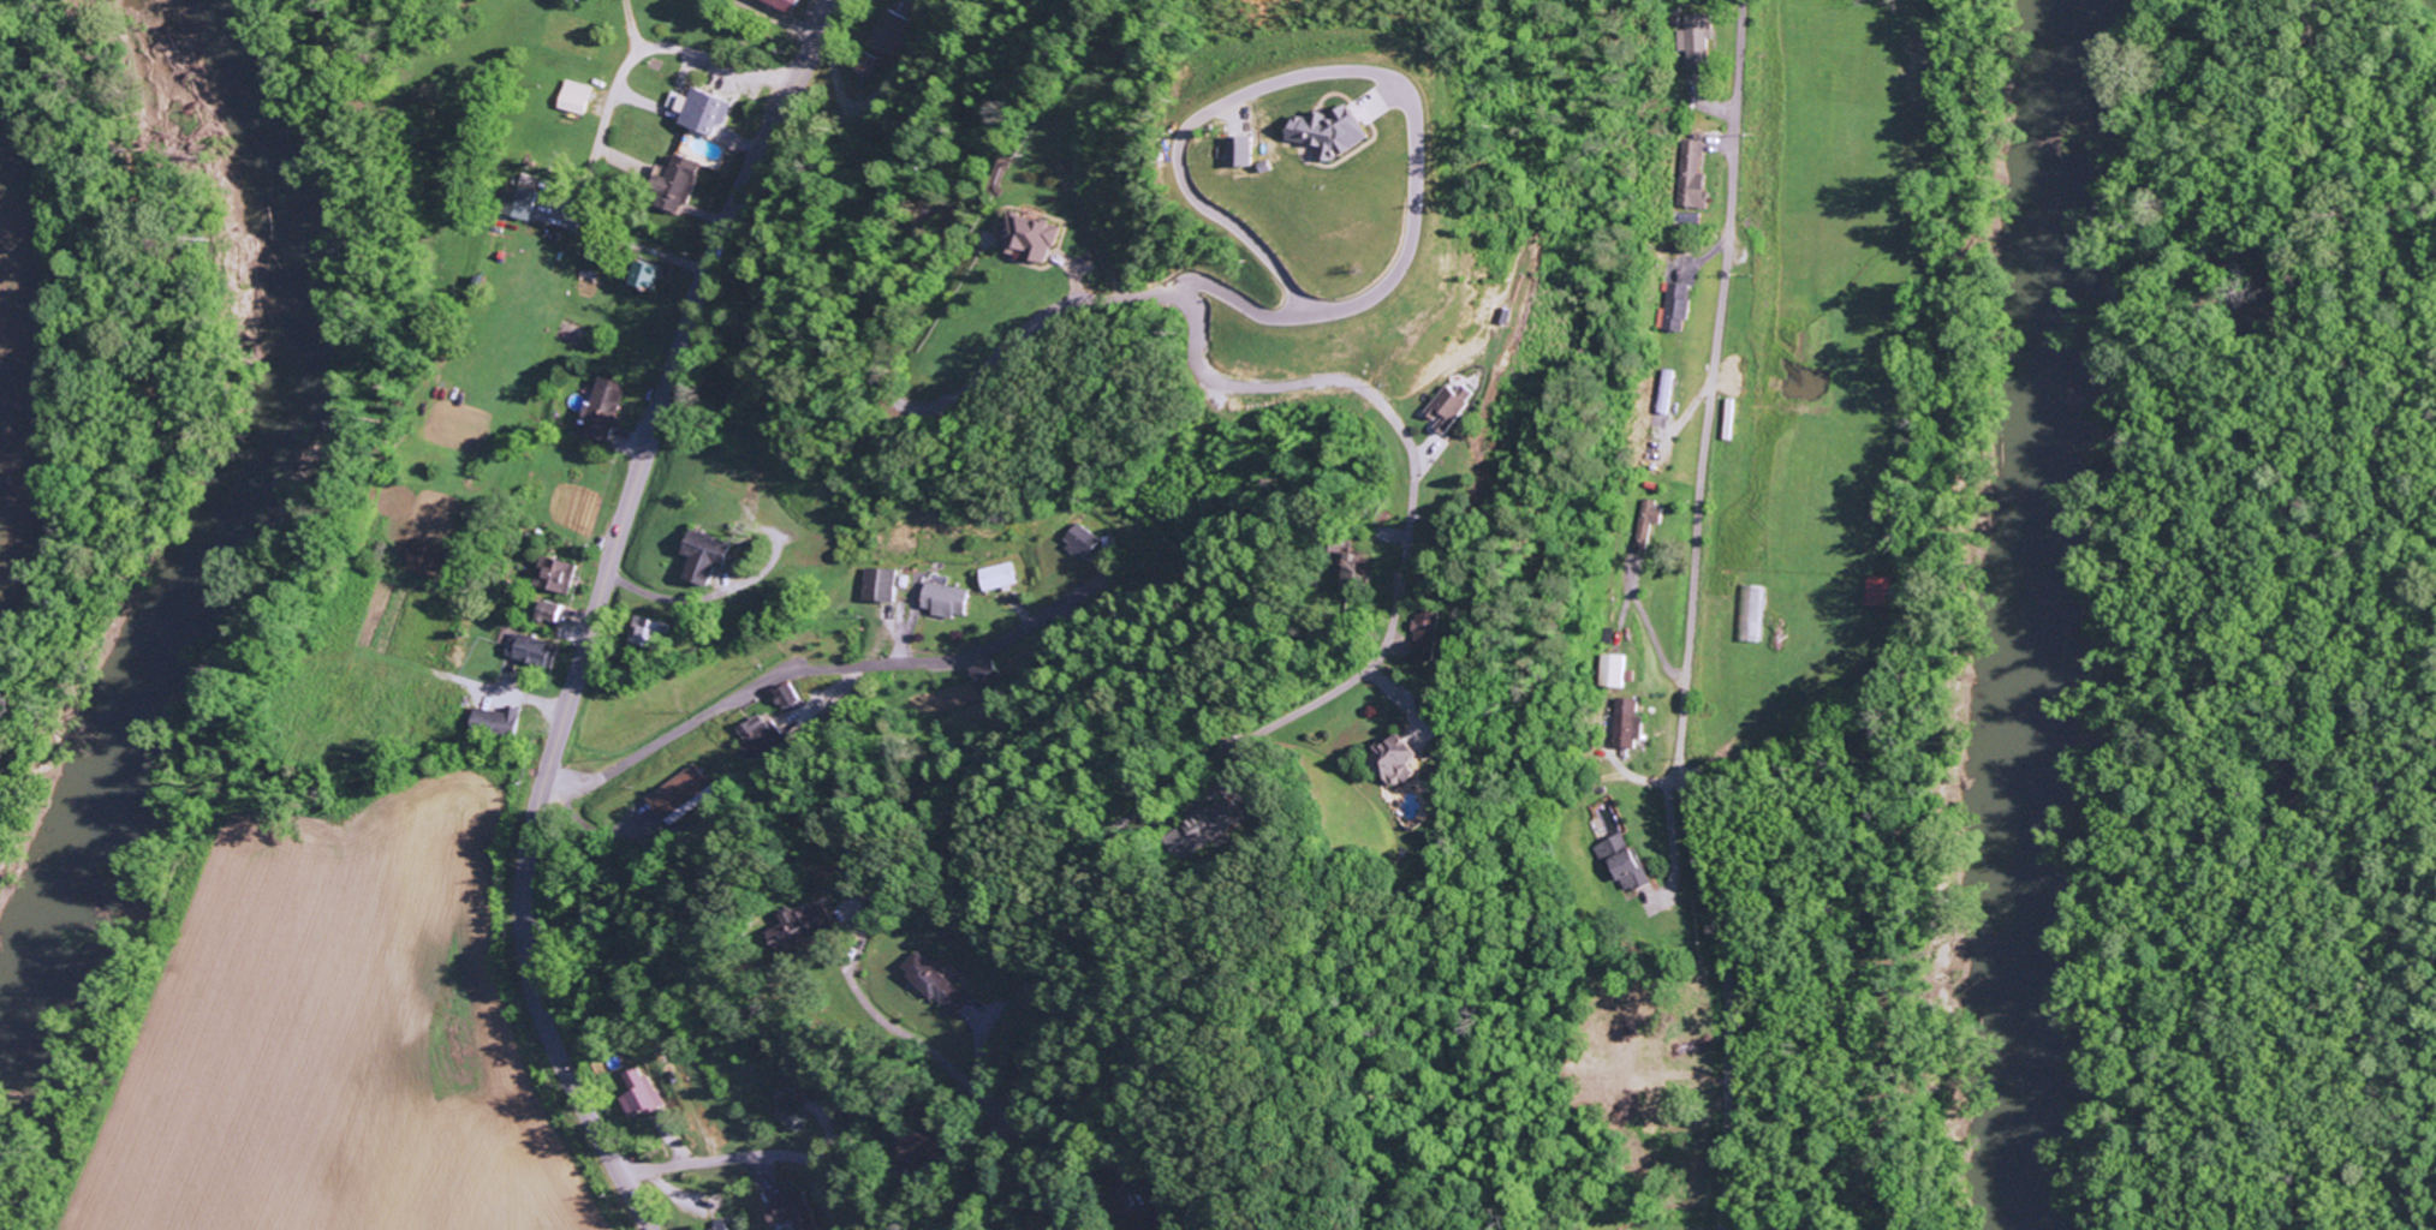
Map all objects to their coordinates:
building: (782, 4)
building: (887, 31)
building: (1695, 41)
building: (866, 65)
building: (580, 97)
building: (702, 109)
building: (1350, 135)
building: (1263, 153)
building: (1693, 175)
building: (680, 185)
building: (1690, 220)
building: (1030, 237)
building: (650, 274)
building: (1676, 306)
road: (1387, 396)
building: (1455, 406)
building: (608, 410)
building: (1648, 521)
building: (1085, 542)
building: (714, 557)
river: (224, 571)
building: (1001, 577)
building: (885, 585)
building: (1877, 590)
building: (948, 598)
building: (556, 613)
road: (595, 613)
building: (1749, 613)
river: (2054, 614)
road: (1690, 616)
building: (1431, 631)
building: (651, 633)
building: (536, 651)
building: (1613, 670)
building: (785, 695)
road: (721, 705)
building: (1626, 723)
building: (498, 724)
building: (755, 732)
building: (1387, 757)
building: (678, 792)
building: (1202, 826)
building: (1620, 861)
building: (810, 924)
building: (943, 984)
road: (928, 1040)
building: (645, 1094)
building: (798, 1116)
road: (826, 1153)
road: (656, 1160)
building: (792, 1212)
building: (726, 1225)

